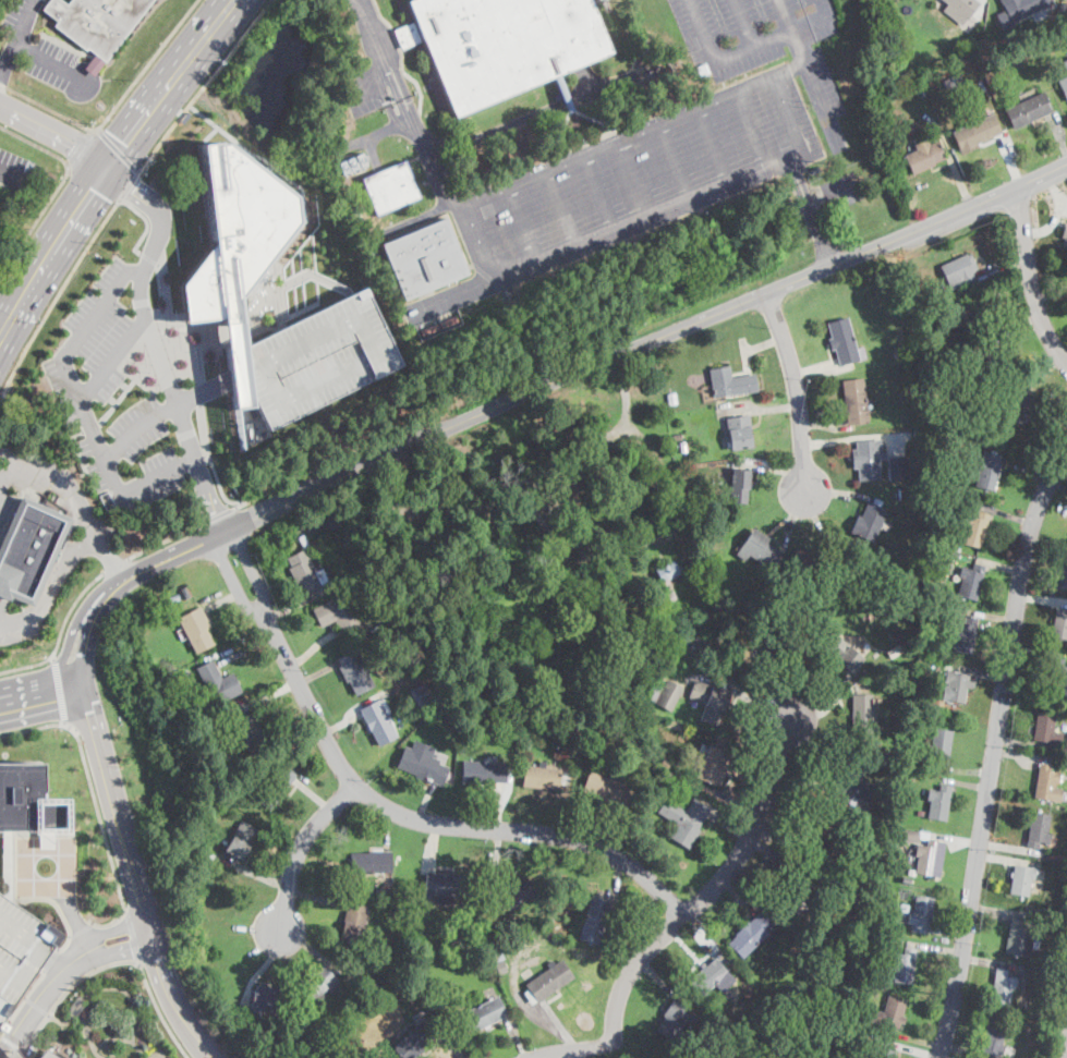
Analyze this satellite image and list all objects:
road: (823, 5)
building: (927, 7)
road: (979, 8)
building: (1020, 8)
building: (960, 9)
building: (1064, 9)
parking lot: (822, 15)
road: (24, 17)
road: (743, 23)
building: (97, 24)
road: (368, 31)
road: (699, 31)
building: (1006, 31)
building: (500, 44)
parking lot: (39, 45)
road: (750, 46)
building: (1029, 52)
road: (8, 56)
building: (1006, 58)
road: (50, 62)
building: (1065, 64)
road: (805, 70)
road: (363, 80)
building: (955, 80)
building: (893, 85)
road: (204, 86)
building: (1064, 86)
road: (393, 89)
building: (922, 93)
parking lot: (360, 94)
road: (384, 94)
road: (567, 97)
road: (114, 109)
building: (1028, 110)
road: (787, 114)
road: (750, 130)
road: (53, 131)
building: (975, 132)
road: (374, 134)
road: (628, 134)
road: (1058, 135)
road: (128, 137)
parking lot: (676, 141)
road: (35, 143)
road: (712, 145)
road: (81, 147)
road: (120, 151)
building: (924, 156)
road: (1008, 160)
road: (672, 161)
traffic signals: (107, 163)
building: (352, 163)
road: (792, 166)
road: (953, 166)
parking lot: (14, 169)
road: (280, 170)
road: (12, 177)
road: (631, 179)
road: (94, 183)
road: (129, 186)
building: (391, 186)
road: (834, 187)
road: (918, 187)
road: (1055, 191)
road: (597, 193)
road: (809, 199)
road: (802, 202)
road: (160, 208)
road: (558, 208)
road: (660, 211)
building: (355, 215)
road: (36, 222)
road: (148, 223)
road: (519, 224)
building: (233, 230)
building: (1064, 234)
road: (465, 236)
road: (824, 248)
building: (423, 258)
road: (150, 260)
road: (1001, 264)
building: (959, 271)
road: (1029, 278)
road: (1003, 287)
road: (1051, 296)
road: (57, 299)
road: (7, 308)
road: (13, 309)
building: (968, 316)
road: (173, 326)
road: (1014, 330)
building: (844, 342)
road: (763, 343)
building: (912, 353)
road: (744, 354)
building: (901, 354)
road: (113, 357)
building: (325, 357)
parking garage: (325, 357)
road: (593, 363)
building: (990, 363)
road: (823, 368)
road: (1047, 370)
building: (730, 382)
road: (214, 389)
road: (796, 389)
road: (125, 392)
parking lot: (124, 394)
road: (197, 394)
building: (671, 398)
building: (905, 398)
building: (854, 401)
road: (175, 403)
building: (1022, 405)
road: (763, 408)
road: (83, 410)
road: (825, 426)
road: (93, 428)
road: (136, 430)
building: (739, 431)
building: (677, 437)
road: (854, 437)
building: (683, 447)
road: (75, 449)
building: (868, 459)
road: (334, 461)
road: (211, 462)
building: (898, 467)
road: (10, 469)
road: (1028, 469)
road: (771, 470)
building: (987, 471)
road: (1060, 474)
building: (739, 485)
road: (837, 489)
road: (1057, 489)
road: (526, 490)
building: (901, 494)
road: (74, 499)
building: (579, 501)
parking lot: (5, 504)
building: (549, 510)
road: (1002, 512)
road: (217, 515)
road: (805, 516)
road: (796, 519)
building: (869, 521)
building: (334, 522)
building: (713, 523)
building: (974, 530)
road: (665, 537)
road: (1047, 539)
road: (162, 542)
building: (757, 548)
building: (29, 549)
building: (934, 552)
building: (955, 555)
building: (813, 559)
road: (993, 563)
road: (112, 564)
road: (61, 567)
building: (304, 567)
road: (253, 570)
road: (625, 571)
building: (1063, 573)
building: (668, 577)
road: (234, 581)
building: (970, 581)
building: (336, 582)
building: (185, 593)
road: (1043, 599)
road: (222, 600)
road: (293, 606)
building: (337, 613)
building: (380, 613)
building: (142, 616)
building: (943, 616)
road: (983, 616)
road: (21, 619)
road: (93, 620)
road: (78, 621)
parking lot: (16, 622)
building: (1059, 624)
building: (196, 629)
building: (963, 633)
road: (59, 636)
building: (895, 637)
building: (705, 642)
building: (780, 643)
road: (1040, 648)
road: (245, 649)
road: (313, 649)
building: (844, 654)
building: (923, 662)
building: (355, 671)
road: (984, 671)
road: (319, 674)
building: (887, 676)
road: (63, 677)
building: (1057, 677)
building: (187, 679)
building: (219, 682)
building: (956, 683)
road: (23, 686)
road: (82, 686)
road: (60, 689)
road: (797, 689)
road: (270, 694)
building: (420, 694)
building: (666, 694)
road: (742, 696)
road: (820, 698)
building: (710, 701)
road: (830, 701)
road: (41, 709)
building: (235, 712)
building: (865, 714)
building: (379, 720)
building: (544, 721)
road: (341, 722)
road: (64, 723)
building: (909, 726)
building: (247, 728)
building: (428, 728)
building: (1047, 731)
building: (708, 737)
road: (1021, 743)
building: (941, 746)
road: (995, 750)
road: (745, 754)
road: (1021, 754)
building: (422, 763)
building: (1065, 763)
building: (666, 764)
building: (714, 765)
building: (902, 765)
road: (967, 769)
building: (483, 771)
building: (541, 776)
building: (566, 776)
road: (802, 779)
building: (1045, 782)
road: (965, 783)
building: (851, 785)
building: (275, 786)
building: (607, 788)
building: (652, 789)
road: (313, 794)
building: (1064, 795)
building: (27, 800)
road: (96, 802)
road: (424, 802)
building: (938, 802)
road: (498, 807)
building: (921, 813)
road: (561, 814)
road: (581, 817)
building: (684, 819)
road: (437, 825)
road: (386, 827)
road: (732, 828)
building: (1040, 828)
road: (781, 831)
building: (931, 834)
building: (823, 835)
building: (909, 836)
building: (241, 839)
road: (960, 840)
road: (301, 848)
road: (433, 848)
road: (1013, 848)
building: (897, 852)
building: (211, 855)
road: (494, 856)
road: (773, 856)
building: (926, 858)
building: (371, 862)
road: (256, 873)
road: (616, 879)
building: (906, 880)
building: (1021, 880)
road: (135, 884)
building: (448, 886)
road: (713, 889)
building: (514, 892)
building: (792, 892)
road: (315, 896)
road: (740, 896)
road: (15, 898)
building: (908, 898)
building: (904, 907)
building: (553, 908)
building: (1064, 908)
road: (995, 910)
building: (921, 913)
building: (594, 920)
road: (78, 922)
building: (353, 923)
road: (238, 927)
road: (117, 928)
building: (894, 929)
road: (83, 931)
road: (948, 933)
building: (750, 934)
road: (71, 936)
building: (464, 936)
road: (133, 937)
building: (1022, 938)
road: (706, 940)
road: (310, 947)
road: (121, 948)
road: (939, 948)
building: (20, 949)
parking lot: (20, 949)
building: (385, 949)
building: (497, 954)
road: (993, 962)
building: (487, 964)
building: (904, 965)
road: (263, 966)
building: (499, 966)
building: (814, 968)
building: (707, 976)
road: (658, 978)
building: (1044, 978)
building: (549, 980)
road: (75, 981)
building: (319, 982)
building: (1003, 987)
road: (120, 988)
road: (40, 994)
building: (268, 998)
road: (23, 999)
road: (36, 1006)
road: (526, 1007)
road: (160, 1012)
building: (890, 1012)
building: (483, 1014)
building: (857, 1017)
road: (106, 1019)
building: (674, 1019)
building: (1, 1026)
parking lot: (1, 1026)
road: (88, 1034)
road: (116, 1037)
road: (517, 1038)
road: (913, 1038)
building: (414, 1039)
road: (136, 1042)
building: (993, 1042)
road: (14, 1043)
building: (330, 1045)
road: (444, 1047)
road: (109, 1048)
road: (575, 1049)
road: (960, 1049)
road: (912, 1050)
building: (880, 1051)
road: (157, 1053)
building: (364, 1054)
road: (579, 1054)
building: (14, 1055)
building: (46, 1055)

